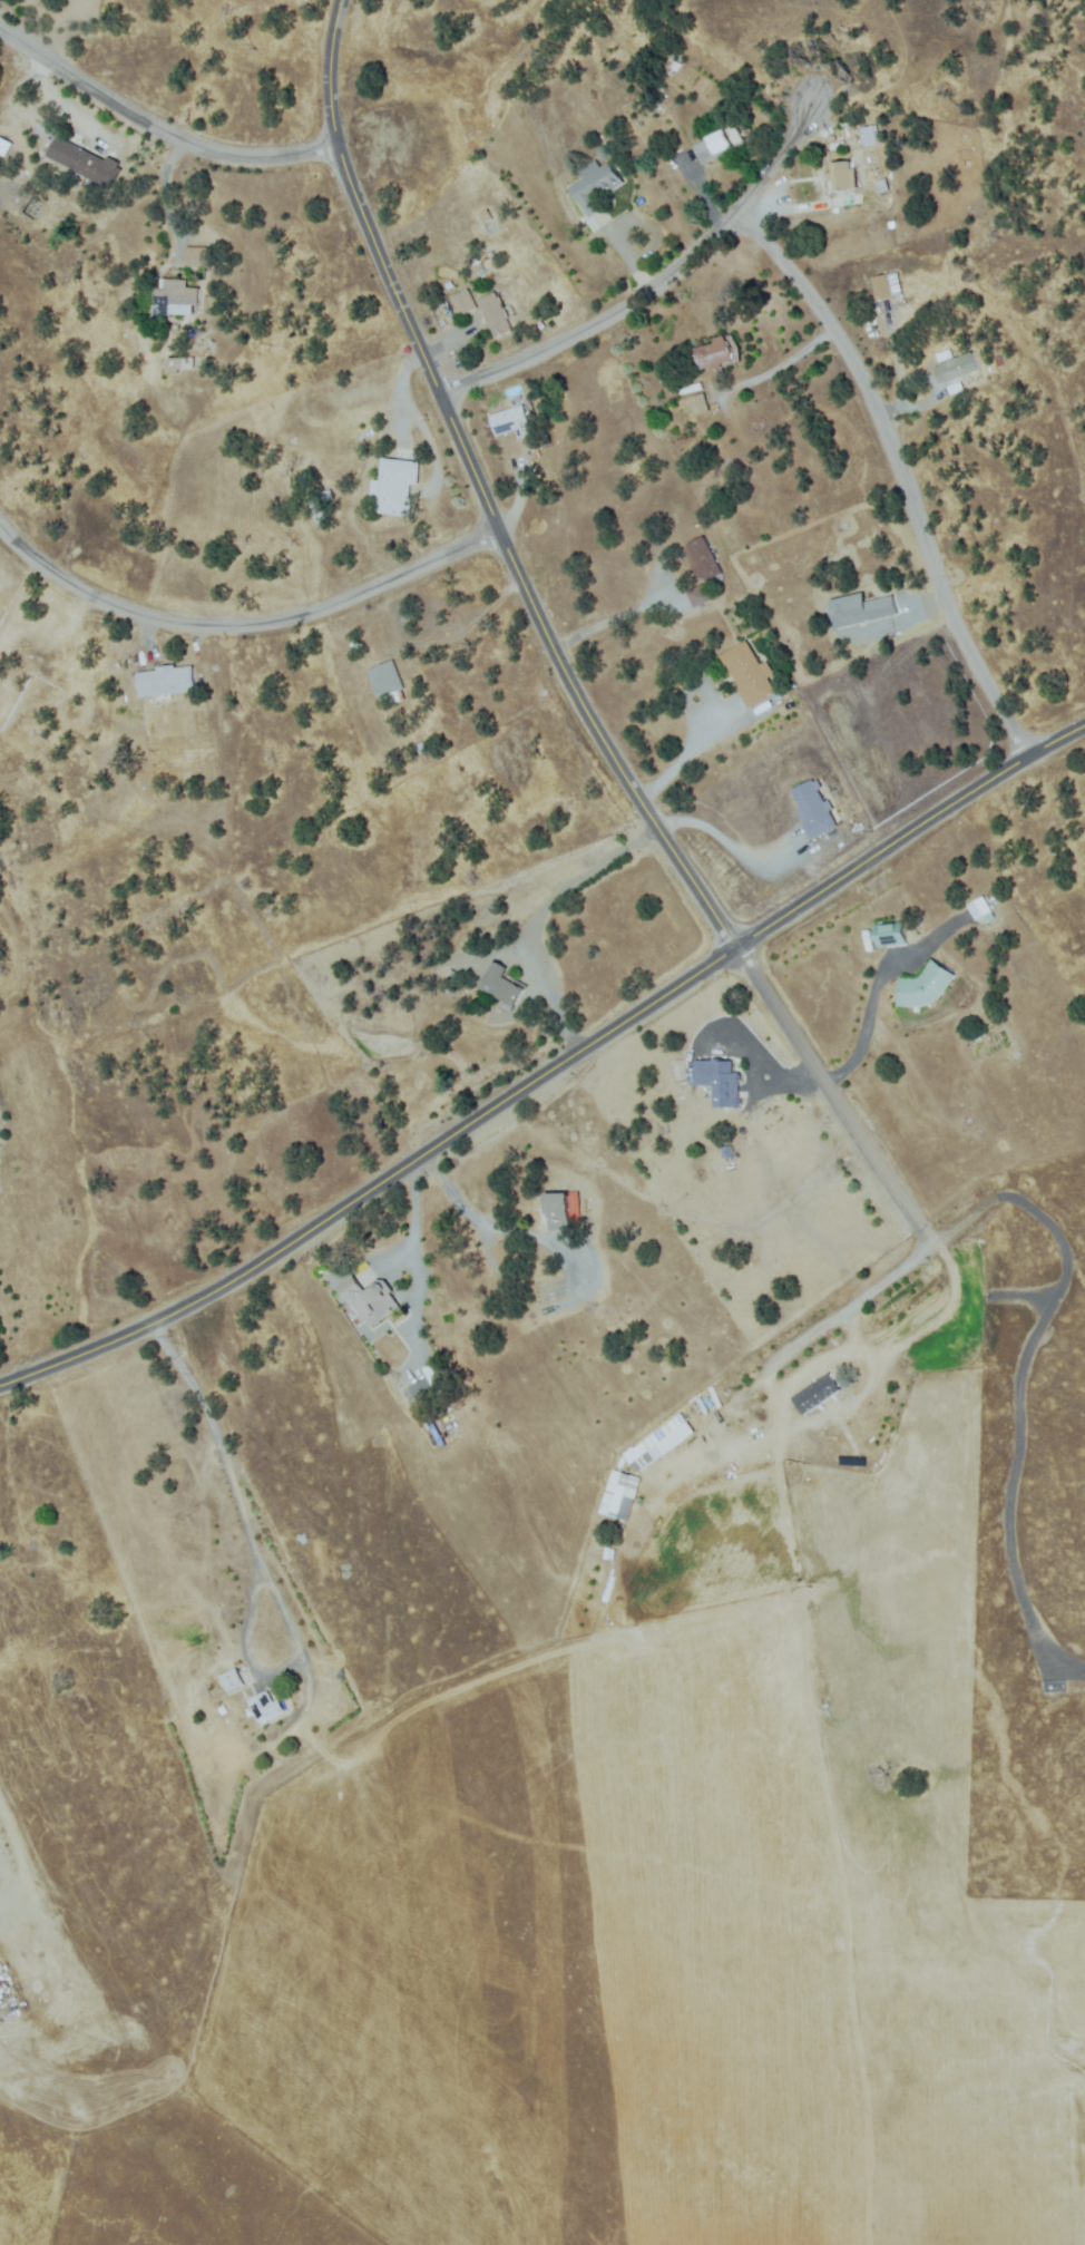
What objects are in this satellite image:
road: (156, 131)
building: (869, 136)
building: (720, 144)
building: (2, 147)
building: (87, 165)
building: (842, 177)
building: (596, 186)
building: (882, 186)
building: (487, 216)
building: (487, 256)
building: (198, 257)
building: (479, 269)
road: (649, 282)
building: (448, 285)
building: (882, 286)
building: (175, 293)
building: (463, 303)
building: (496, 314)
building: (716, 352)
building: (945, 354)
building: (998, 361)
building: (178, 365)
building: (956, 368)
building: (955, 389)
building: (697, 404)
building: (511, 422)
road: (895, 472)
building: (305, 478)
building: (394, 487)
building: (325, 495)
building: (319, 511)
building: (703, 559)
building: (698, 596)
building: (860, 609)
road: (243, 624)
road: (547, 643)
building: (355, 644)
building: (747, 673)
building: (166, 681)
building: (387, 683)
building: (763, 704)
building: (423, 749)
building: (813, 809)
building: (978, 910)
building: (890, 934)
building: (925, 986)
building: (501, 987)
road: (549, 1070)
building: (720, 1082)
building: (727, 1152)
building: (559, 1210)
building: (505, 1253)
building: (370, 1300)
building: (434, 1380)
building: (422, 1392)
building: (232, 1680)
building: (264, 1706)
building: (223, 1710)

